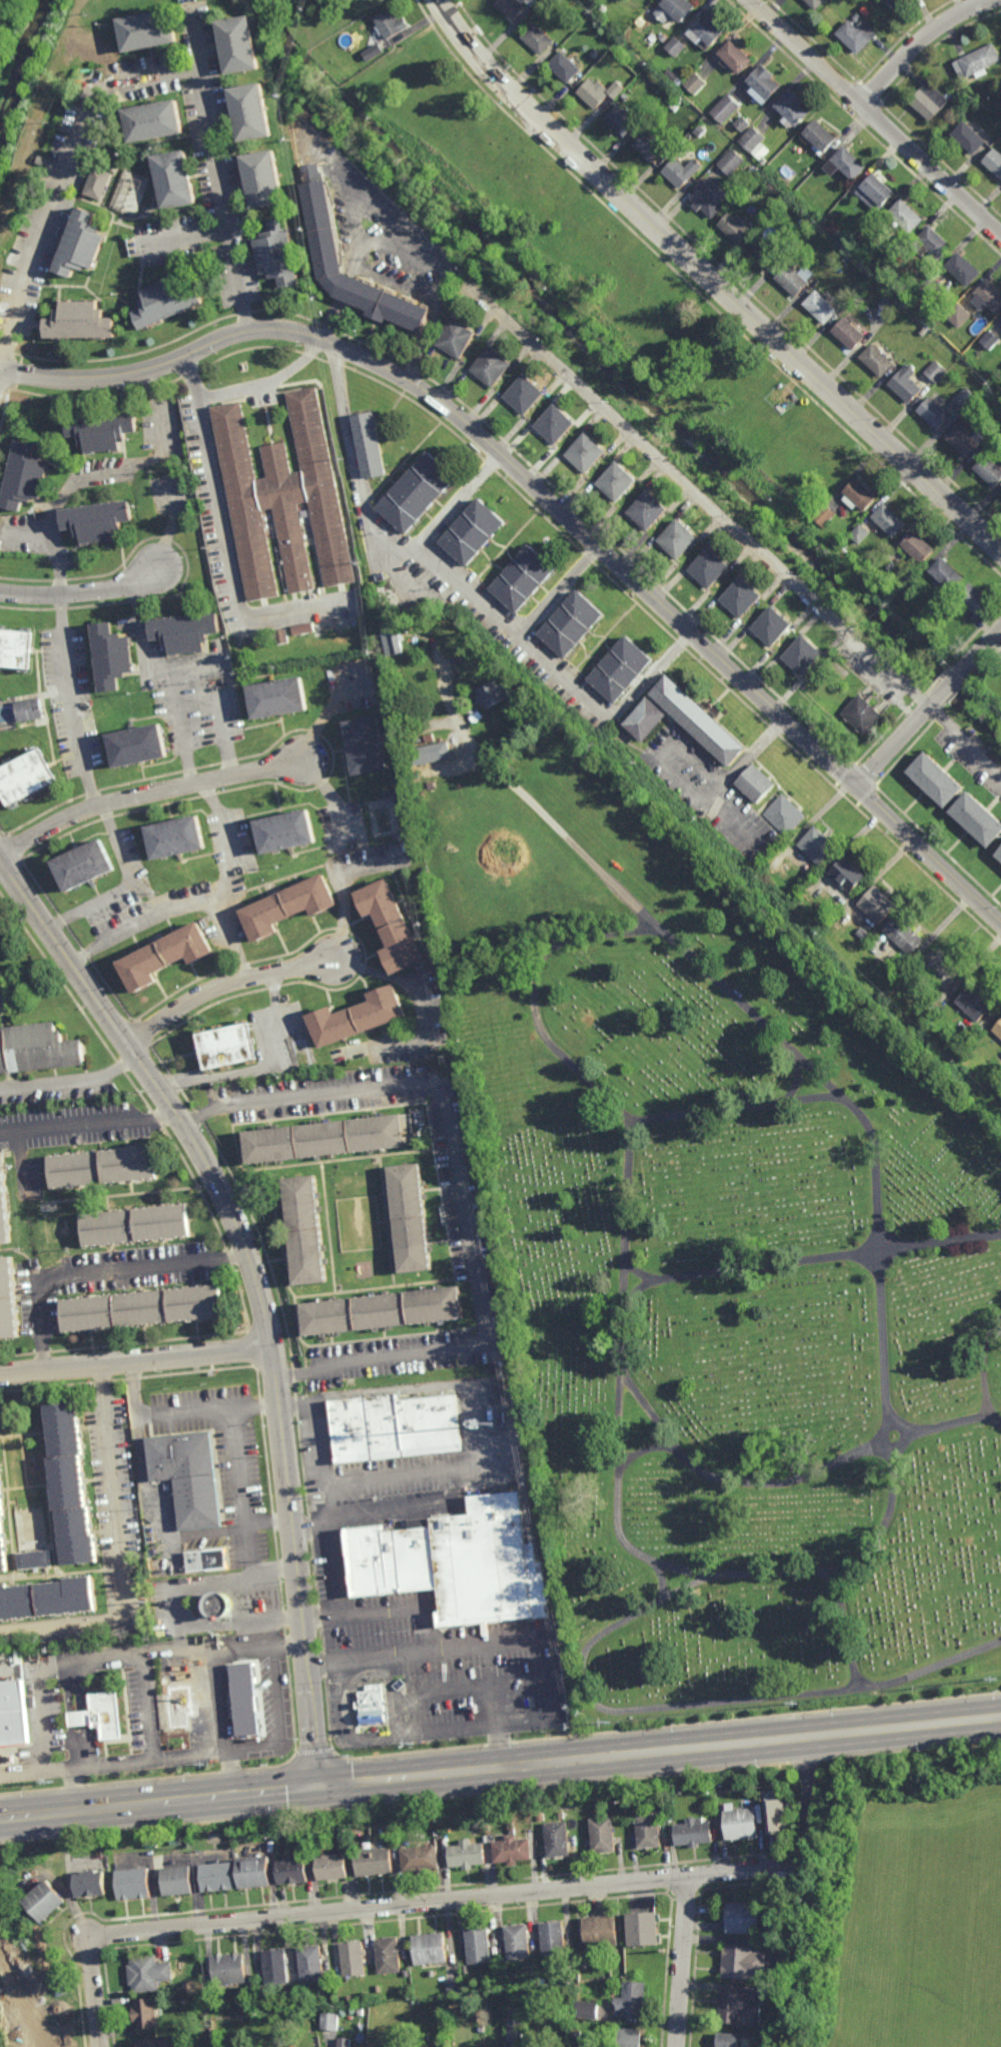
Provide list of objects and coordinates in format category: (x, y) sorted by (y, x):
building: (894, 3)
building: (817, 4)
building: (550, 5)
building: (511, 8)
building: (602, 10)
building: (676, 10)
building: (857, 17)
building: (712, 27)
building: (389, 28)
building: (149, 31)
building: (858, 34)
building: (664, 38)
building: (538, 40)
road: (919, 42)
park: (16, 44)
building: (241, 45)
building: (676, 45)
building: (639, 49)
building: (372, 54)
building: (596, 54)
building: (737, 54)
building: (978, 60)
building: (565, 67)
building: (674, 77)
building: (696, 82)
building: (765, 82)
building: (615, 88)
building: (593, 92)
building: (625, 97)
building: (931, 100)
building: (726, 107)
building: (793, 107)
building: (252, 110)
road: (875, 117)
building: (156, 118)
building: (621, 119)
building: (743, 122)
building: (821, 136)
building: (969, 137)
building: (756, 142)
building: (652, 148)
building: (764, 160)
building: (994, 160)
building: (731, 161)
building: (851, 161)
road: (216, 167)
building: (681, 170)
building: (177, 178)
building: (264, 178)
road: (63, 180)
building: (99, 182)
building: (877, 191)
building: (708, 200)
road: (383, 201)
building: (909, 214)
building: (736, 226)
building: (323, 228)
road: (183, 239)
building: (935, 242)
building: (81, 243)
building: (279, 253)
building: (765, 253)
building: (847, 257)
building: (963, 268)
building: (922, 276)
road: (385, 278)
building: (793, 280)
road: (712, 281)
building: (934, 287)
building: (989, 295)
building: (168, 302)
building: (891, 303)
building: (822, 307)
building: (958, 314)
building: (81, 322)
building: (1000, 327)
building: (926, 331)
building: (851, 334)
building: (456, 339)
building: (990, 339)
building: (879, 360)
building: (493, 368)
building: (938, 371)
road: (268, 381)
building: (908, 384)
building: (526, 396)
building: (965, 397)
building: (935, 413)
building: (556, 425)
building: (104, 429)
building: (962, 439)
building: (370, 445)
building: (587, 454)
building: (994, 458)
building: (989, 470)
building: (25, 477)
road: (104, 477)
building: (617, 483)
building: (418, 493)
building: (860, 497)
road: (552, 499)
building: (285, 500)
road: (457, 502)
building: (648, 512)
building: (825, 516)
building: (100, 522)
building: (890, 522)
building: (474, 533)
road: (739, 535)
building: (860, 536)
road: (224, 539)
building: (678, 541)
building: (920, 549)
building: (710, 569)
building: (946, 576)
building: (524, 580)
building: (385, 589)
road: (558, 591)
road: (83, 593)
road: (467, 594)
building: (742, 599)
building: (973, 601)
building: (392, 611)
building: (384, 612)
building: (572, 623)
building: (773, 627)
building: (188, 633)
building: (281, 637)
building: (394, 640)
building: (16, 647)
building: (114, 656)
building: (804, 656)
road: (148, 666)
building: (621, 667)
building: (427, 680)
building: (85, 690)
building: (492, 692)
building: (279, 694)
road: (71, 703)
road: (929, 706)
building: (29, 708)
building: (862, 715)
building: (646, 718)
building: (700, 718)
building: (140, 742)
building: (366, 742)
building: (430, 752)
building: (26, 775)
road: (729, 777)
building: (938, 778)
building: (756, 783)
building: (446, 788)
road: (147, 793)
building: (389, 793)
building: (785, 815)
building: (976, 816)
building: (284, 829)
building: (178, 835)
road: (229, 838)
building: (819, 844)
building: (767, 848)
building: (998, 852)
building: (757, 856)
building: (85, 863)
road: (3, 868)
building: (849, 873)
road: (125, 885)
road: (343, 889)
building: (287, 904)
building: (878, 904)
road: (179, 905)
building: (837, 906)
building: (391, 924)
building: (862, 934)
building: (904, 934)
building: (165, 955)
building: (940, 969)
road: (227, 985)
road: (419, 996)
building: (941, 999)
building: (976, 1001)
building: (357, 1016)
building: (998, 1028)
building: (223, 1046)
building: (38, 1048)
building: (338, 1055)
building: (360, 1060)
road: (267, 1065)
building: (323, 1068)
road: (71, 1081)
road: (160, 1090)
road: (731, 1112)
road: (86, 1117)
building: (322, 1139)
building: (101, 1167)
road: (457, 1188)
building: (356, 1194)
building: (4, 1208)
building: (409, 1219)
building: (135, 1225)
building: (303, 1231)
park: (705, 1231)
road: (810, 1258)
road: (98, 1269)
building: (8, 1303)
building: (142, 1309)
building: (380, 1313)
road: (136, 1361)
road: (981, 1369)
road: (186, 1409)
road: (471, 1424)
building: (392, 1425)
building: (186, 1473)
road: (792, 1478)
building: (67, 1480)
road: (239, 1486)
road: (325, 1492)
road: (884, 1518)
building: (3, 1525)
road: (311, 1529)
road: (118, 1550)
building: (35, 1557)
building: (204, 1558)
building: (454, 1562)
road: (297, 1564)
building: (47, 1597)
building: (219, 1605)
road: (380, 1611)
road: (848, 1632)
road: (455, 1645)
road: (219, 1676)
power tower: (917, 1687)
building: (245, 1703)
building: (370, 1704)
building: (175, 1705)
road: (703, 1705)
building: (14, 1714)
building: (98, 1714)
power tower: (576, 1725)
power tower: (409, 1744)
power tower: (210, 1764)
road: (500, 1767)
road: (809, 1767)
building: (718, 1782)
power tower: (48, 1783)
traffic signals: (320, 1783)
building: (604, 1812)
building: (559, 1815)
building: (773, 1815)
building: (539, 1817)
building: (739, 1823)
building: (647, 1830)
building: (692, 1832)
building: (602, 1834)
building: (555, 1838)
building: (510, 1848)
building: (465, 1854)
building: (419, 1858)
building: (372, 1861)
building: (330, 1866)
road: (778, 1866)
building: (290, 1870)
building: (252, 1871)
building: (216, 1877)
building: (175, 1881)
building: (87, 1883)
building: (130, 1883)
road: (357, 1895)
road: (448, 1900)
building: (44, 1901)
building: (743, 1918)
road: (797, 1923)
building: (642, 1929)
road: (697, 1930)
building: (599, 1934)
building: (553, 1939)
building: (517, 1943)
building: (477, 1948)
building: (428, 1949)
building: (387, 1956)
building: (352, 1959)
road: (683, 1961)
building: (309, 1963)
building: (740, 1963)
building: (533, 1967)
building: (275, 1968)
building: (228, 1970)
building: (504, 1970)
building: (147, 1973)
building: (405, 1973)
road: (94, 1982)
building: (184, 1985)
building: (453, 1986)
building: (379, 1989)
building: (364, 1996)
building: (349, 1999)
building: (632, 2000)
building: (184, 2001)
building: (737, 2008)
building: (587, 2010)
building: (514, 2012)
building: (144, 2013)
building: (360, 2013)
building: (329, 2020)
building: (481, 2029)
building: (514, 2031)
building: (527, 2033)
building: (576, 2034)
building: (629, 2038)
building: (344, 2040)
building: (725, 2040)
building: (151, 2042)
building: (400, 2042)
building: (440, 2042)

